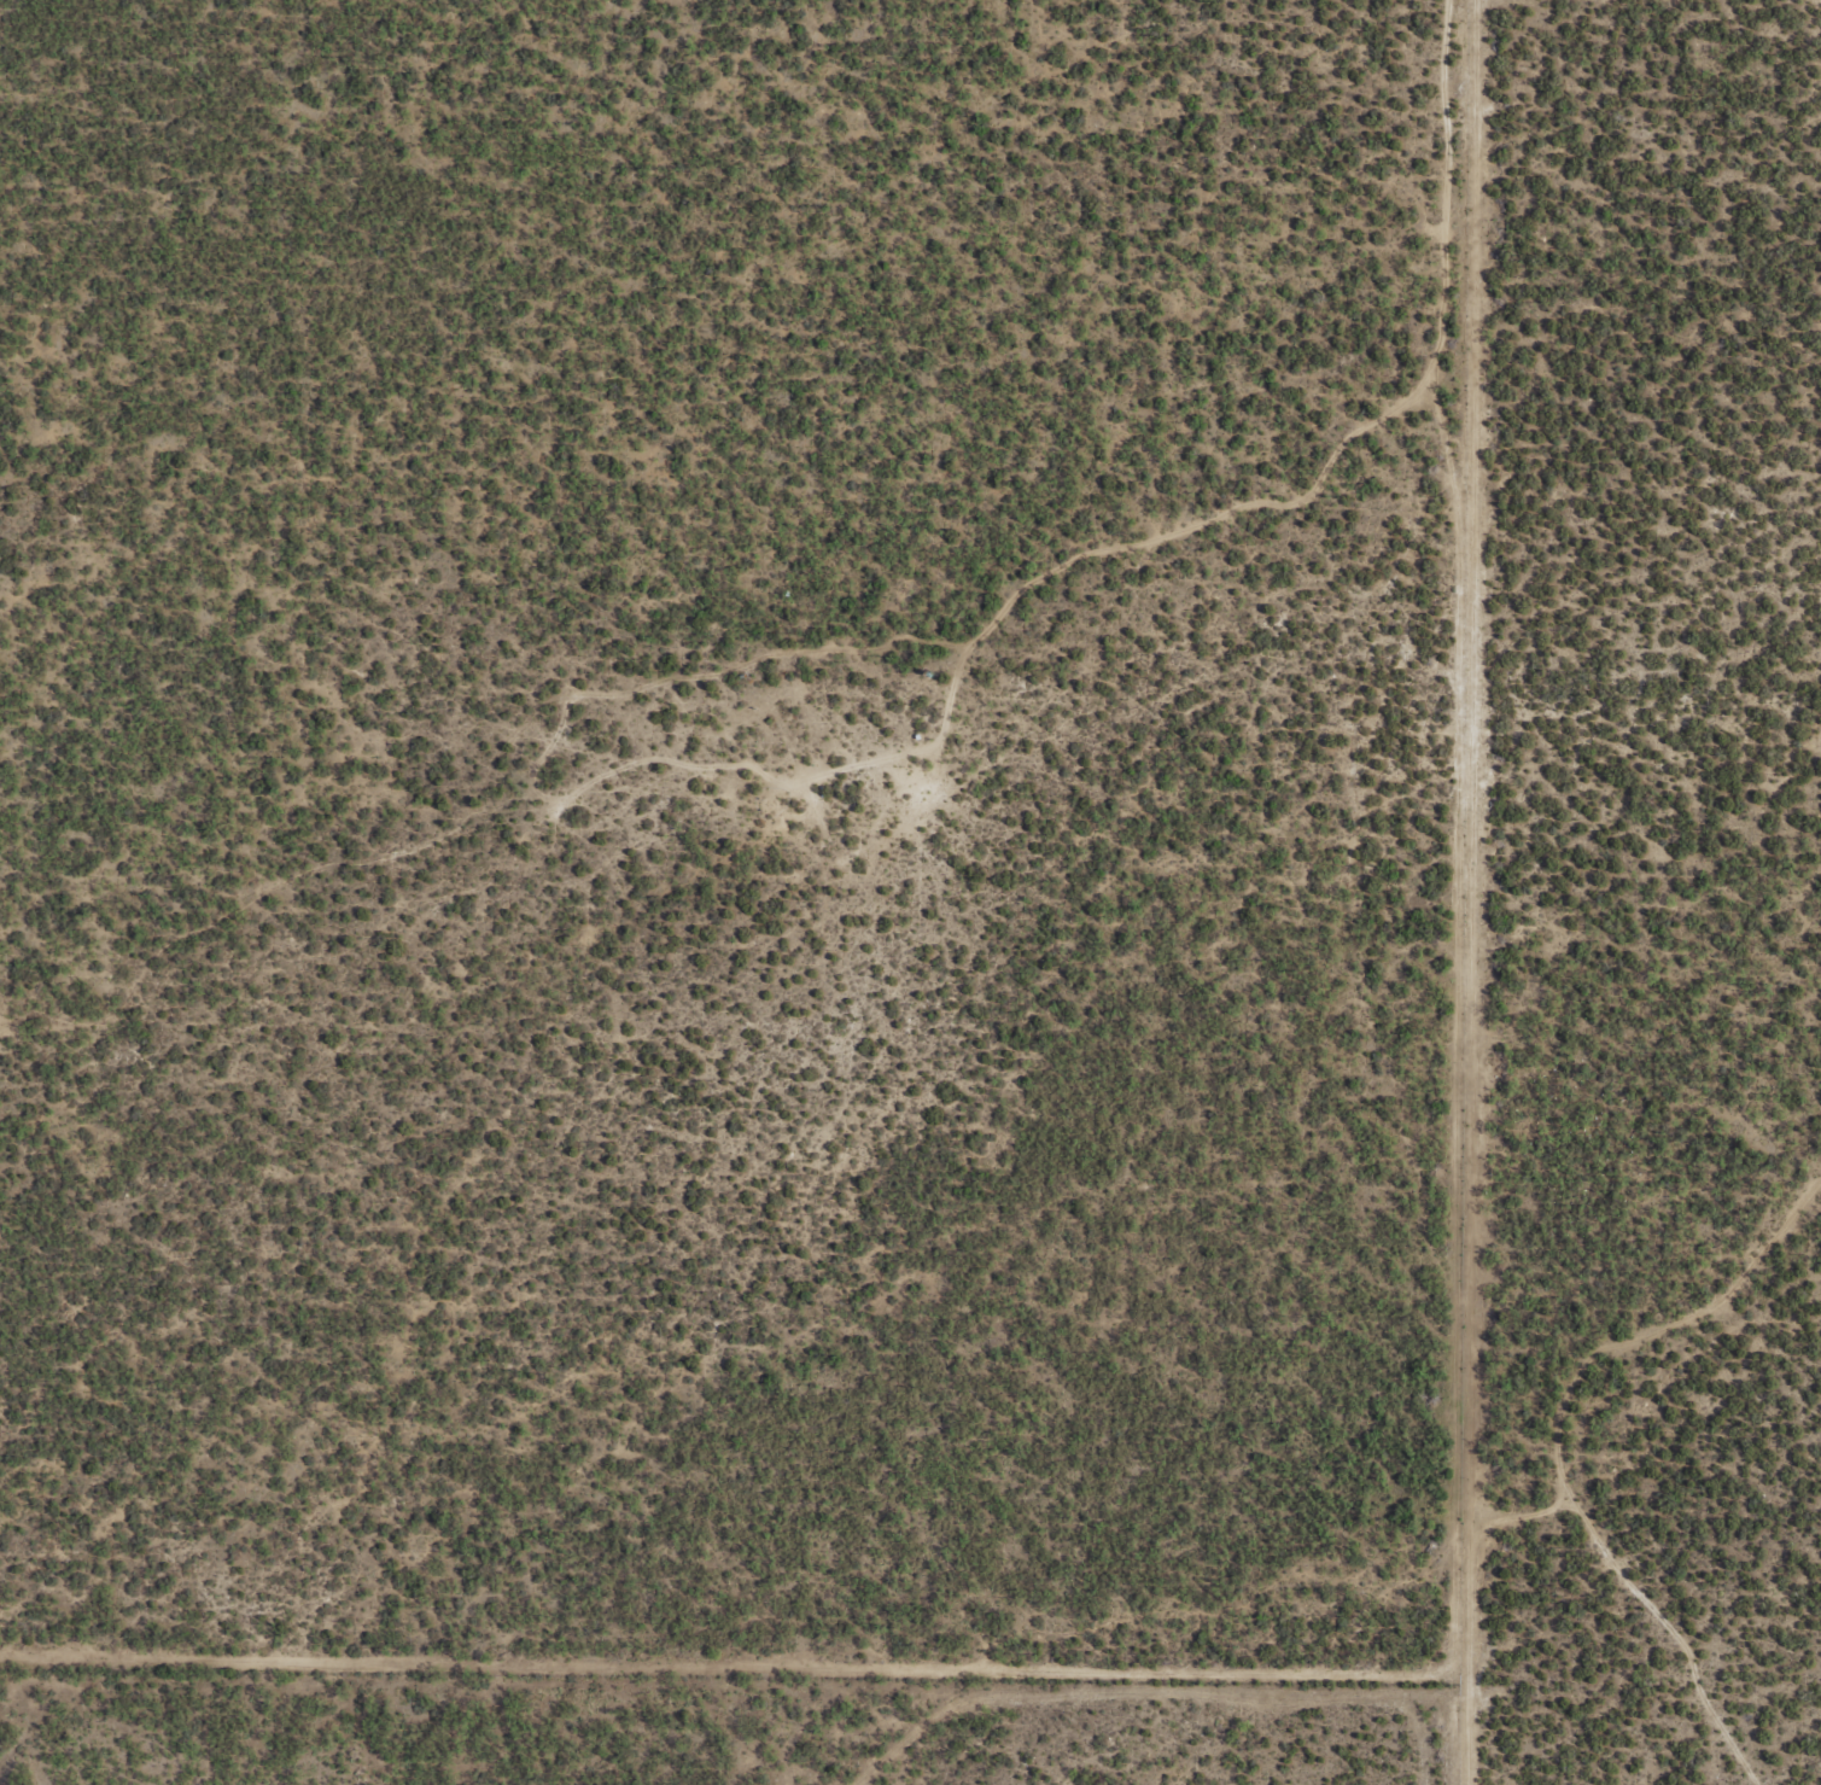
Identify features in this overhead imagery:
road: (1297, 879)
road: (142, 1690)

